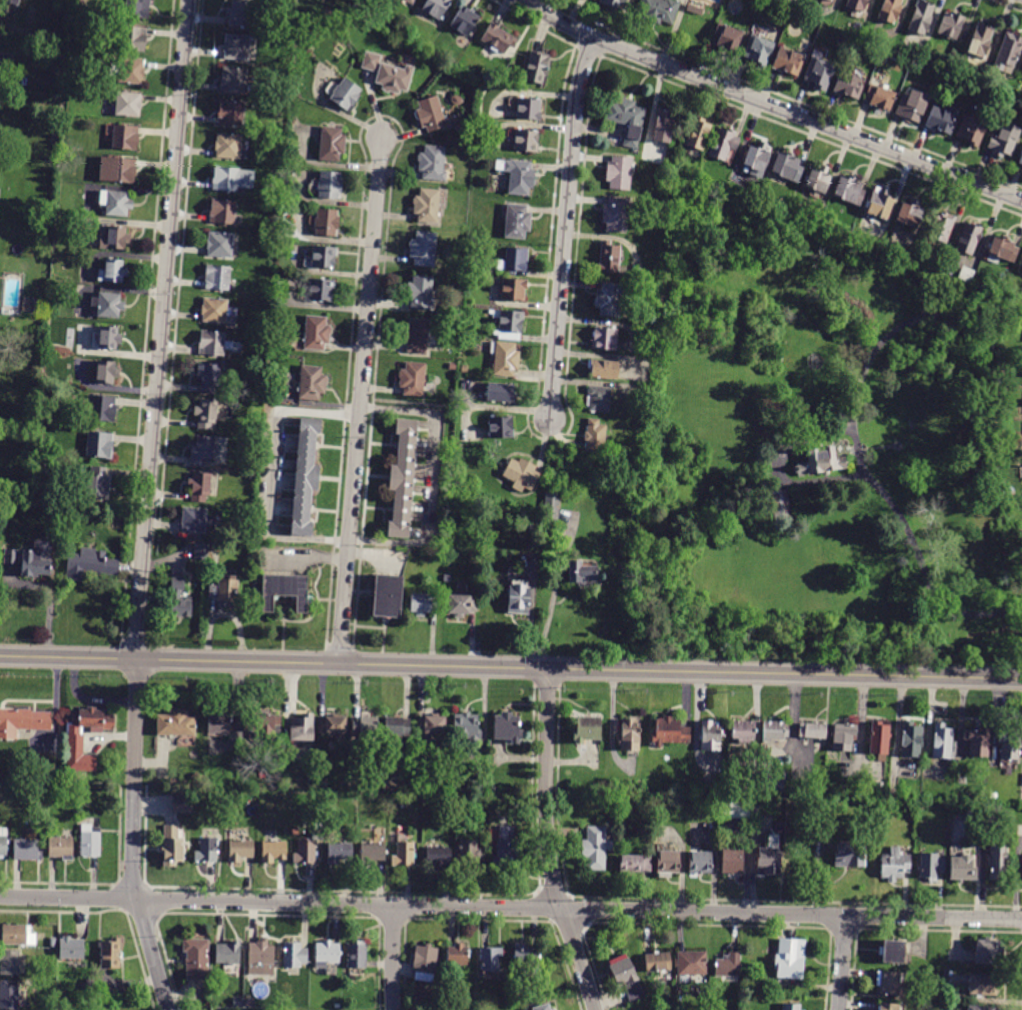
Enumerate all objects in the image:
building: (831, 0)
building: (409, 1)
building: (12, 2)
building: (613, 3)
building: (856, 5)
building: (436, 8)
building: (137, 9)
building: (658, 10)
building: (889, 10)
building: (327, 13)
building: (241, 14)
building: (921, 17)
building: (464, 21)
building: (951, 25)
building: (727, 37)
building: (498, 38)
building: (133, 39)
building: (980, 40)
building: (237, 47)
building: (758, 50)
building: (1008, 51)
building: (6, 59)
building: (787, 61)
building: (371, 62)
building: (537, 67)
building: (128, 71)
building: (818, 71)
building: (396, 77)
building: (234, 80)
building: (848, 85)
building: (346, 95)
building: (879, 97)
building: (457, 100)
building: (128, 104)
road: (769, 105)
building: (912, 106)
building: (528, 109)
building: (231, 113)
building: (431, 114)
building: (626, 118)
building: (940, 120)
building: (663, 126)
building: (971, 130)
building: (697, 133)
building: (125, 137)
building: (1003, 138)
building: (526, 140)
building: (331, 143)
building: (722, 143)
building: (229, 146)
building: (757, 159)
building: (1020, 160)
building: (434, 164)
building: (786, 167)
building: (122, 170)
building: (619, 173)
building: (519, 176)
building: (232, 179)
building: (819, 179)
building: (329, 184)
building: (849, 190)
building: (118, 203)
building: (879, 204)
building: (427, 205)
building: (223, 212)
building: (616, 214)
building: (910, 214)
building: (326, 221)
building: (517, 221)
building: (941, 226)
road: (566, 227)
building: (115, 238)
building: (968, 238)
building: (221, 245)
building: (424, 249)
building: (1002, 249)
building: (323, 257)
building: (609, 258)
building: (514, 260)
building: (113, 271)
building: (1021, 271)
building: (966, 274)
building: (218, 278)
building: (281, 285)
building: (513, 289)
building: (321, 290)
building: (420, 292)
building: (610, 299)
building: (37, 305)
building: (107, 305)
building: (459, 310)
building: (217, 311)
building: (960, 316)
building: (510, 321)
building: (317, 333)
building: (416, 336)
building: (109, 338)
building: (605, 338)
building: (214, 343)
building: (505, 359)
building: (604, 368)
building: (106, 372)
building: (208, 377)
building: (413, 379)
building: (311, 382)
building: (501, 393)
building: (599, 398)
road: (360, 399)
building: (102, 408)
building: (206, 414)
building: (501, 428)
building: (595, 436)
building: (100, 445)
building: (202, 450)
building: (821, 461)
building: (306, 474)
building: (521, 474)
building: (408, 478)
building: (98, 483)
building: (200, 486)
building: (41, 491)
road: (147, 506)
building: (551, 506)
building: (781, 510)
building: (194, 521)
building: (535, 526)
building: (216, 544)
building: (201, 551)
road: (306, 556)
building: (33, 559)
building: (90, 564)
building: (583, 574)
building: (447, 578)
building: (289, 590)
building: (224, 593)
building: (179, 598)
building: (390, 598)
building: (519, 599)
road: (553, 602)
building: (424, 603)
building: (461, 605)
road: (510, 668)
building: (22, 721)
building: (218, 722)
building: (176, 723)
building: (261, 724)
building: (332, 725)
building: (432, 725)
building: (365, 727)
building: (397, 727)
building: (467, 727)
building: (507, 727)
building: (302, 728)
building: (587, 729)
building: (774, 730)
building: (812, 730)
building: (669, 732)
building: (743, 732)
building: (73, 733)
building: (709, 736)
building: (629, 737)
building: (843, 737)
building: (879, 738)
building: (910, 739)
building: (941, 741)
building: (977, 741)
building: (1009, 742)
building: (73, 762)
building: (56, 775)
building: (1021, 781)
building: (323, 782)
building: (772, 782)
building: (182, 804)
building: (736, 809)
building: (317, 834)
building: (91, 841)
building: (3, 842)
road: (547, 842)
building: (62, 846)
building: (173, 846)
building: (597, 848)
building: (26, 850)
building: (207, 850)
building: (240, 850)
building: (274, 851)
building: (507, 851)
building: (305, 852)
building: (339, 852)
building: (372, 853)
building: (404, 853)
building: (471, 853)
building: (850, 854)
building: (439, 856)
building: (998, 860)
building: (669, 861)
building: (768, 861)
building: (732, 862)
building: (635, 863)
building: (700, 863)
building: (895, 864)
building: (960, 865)
building: (932, 866)
road: (510, 908)
building: (18, 935)
building: (53, 943)
building: (72, 949)
building: (894, 951)
building: (988, 952)
building: (111, 953)
building: (228, 953)
building: (326, 953)
building: (294, 955)
building: (457, 955)
building: (526, 955)
building: (356, 956)
building: (261, 957)
building: (197, 958)
road: (392, 958)
building: (490, 959)
building: (790, 959)
road: (842, 962)
building: (425, 963)
building: (658, 963)
building: (692, 963)
building: (12, 964)
building: (728, 967)
building: (627, 978)
building: (890, 983)
building: (91, 984)
building: (983, 985)
building: (44, 994)
building: (9, 996)
building: (106, 1001)
building: (250, 1002)
building: (54, 1003)
building: (282, 1003)
building: (790, 1006)
building: (888, 1006)
building: (544, 1007)
building: (980, 1008)

